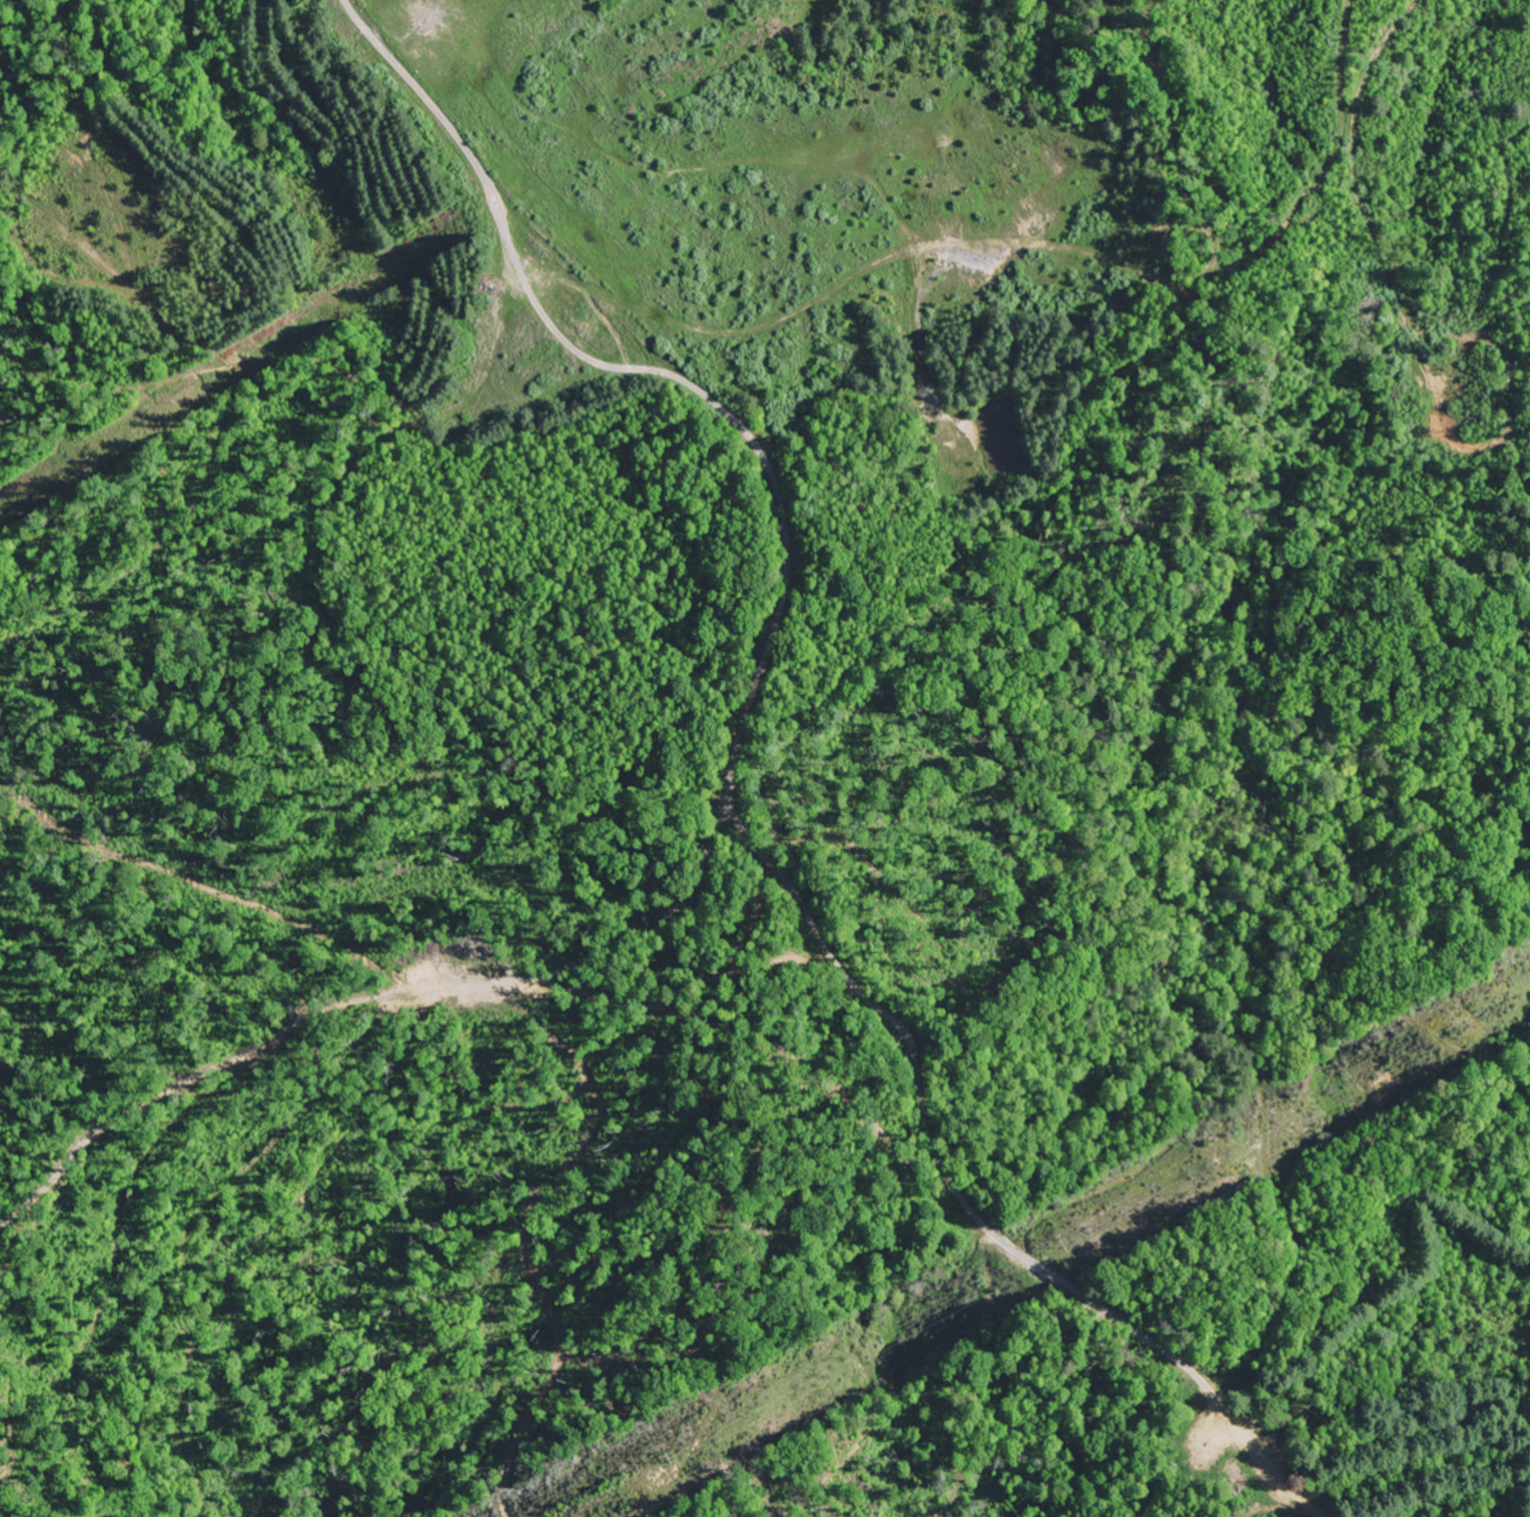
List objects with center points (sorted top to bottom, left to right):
road: (1354, 138)
road: (731, 789)
road: (369, 1000)
road: (1262, 1108)

